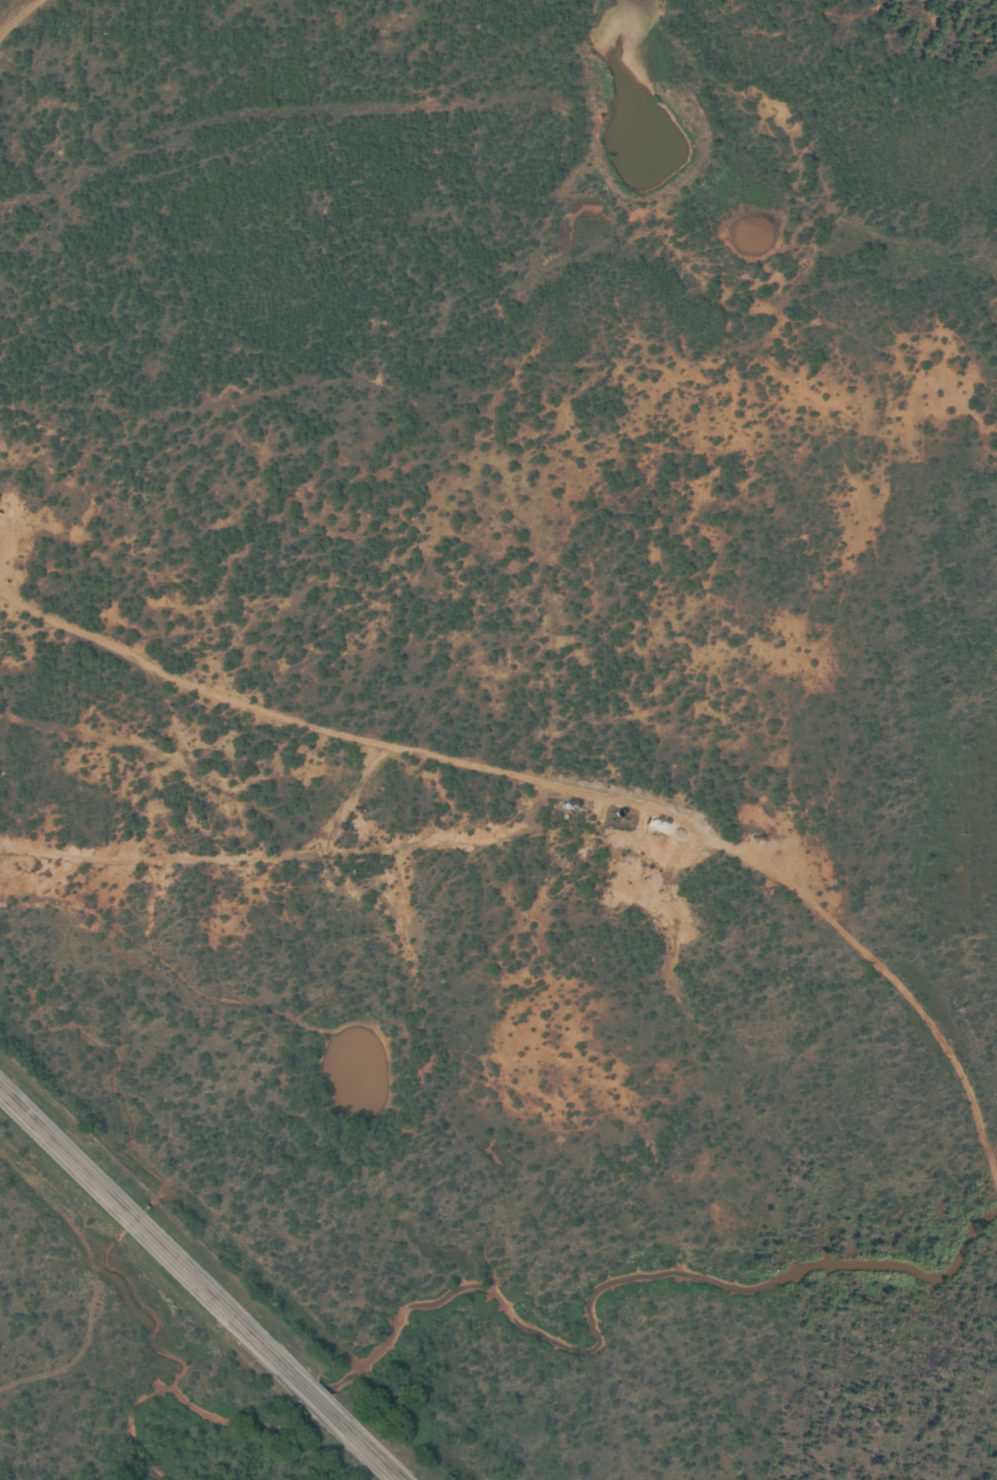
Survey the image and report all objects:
road: (37, 35)
road: (200, 1283)

